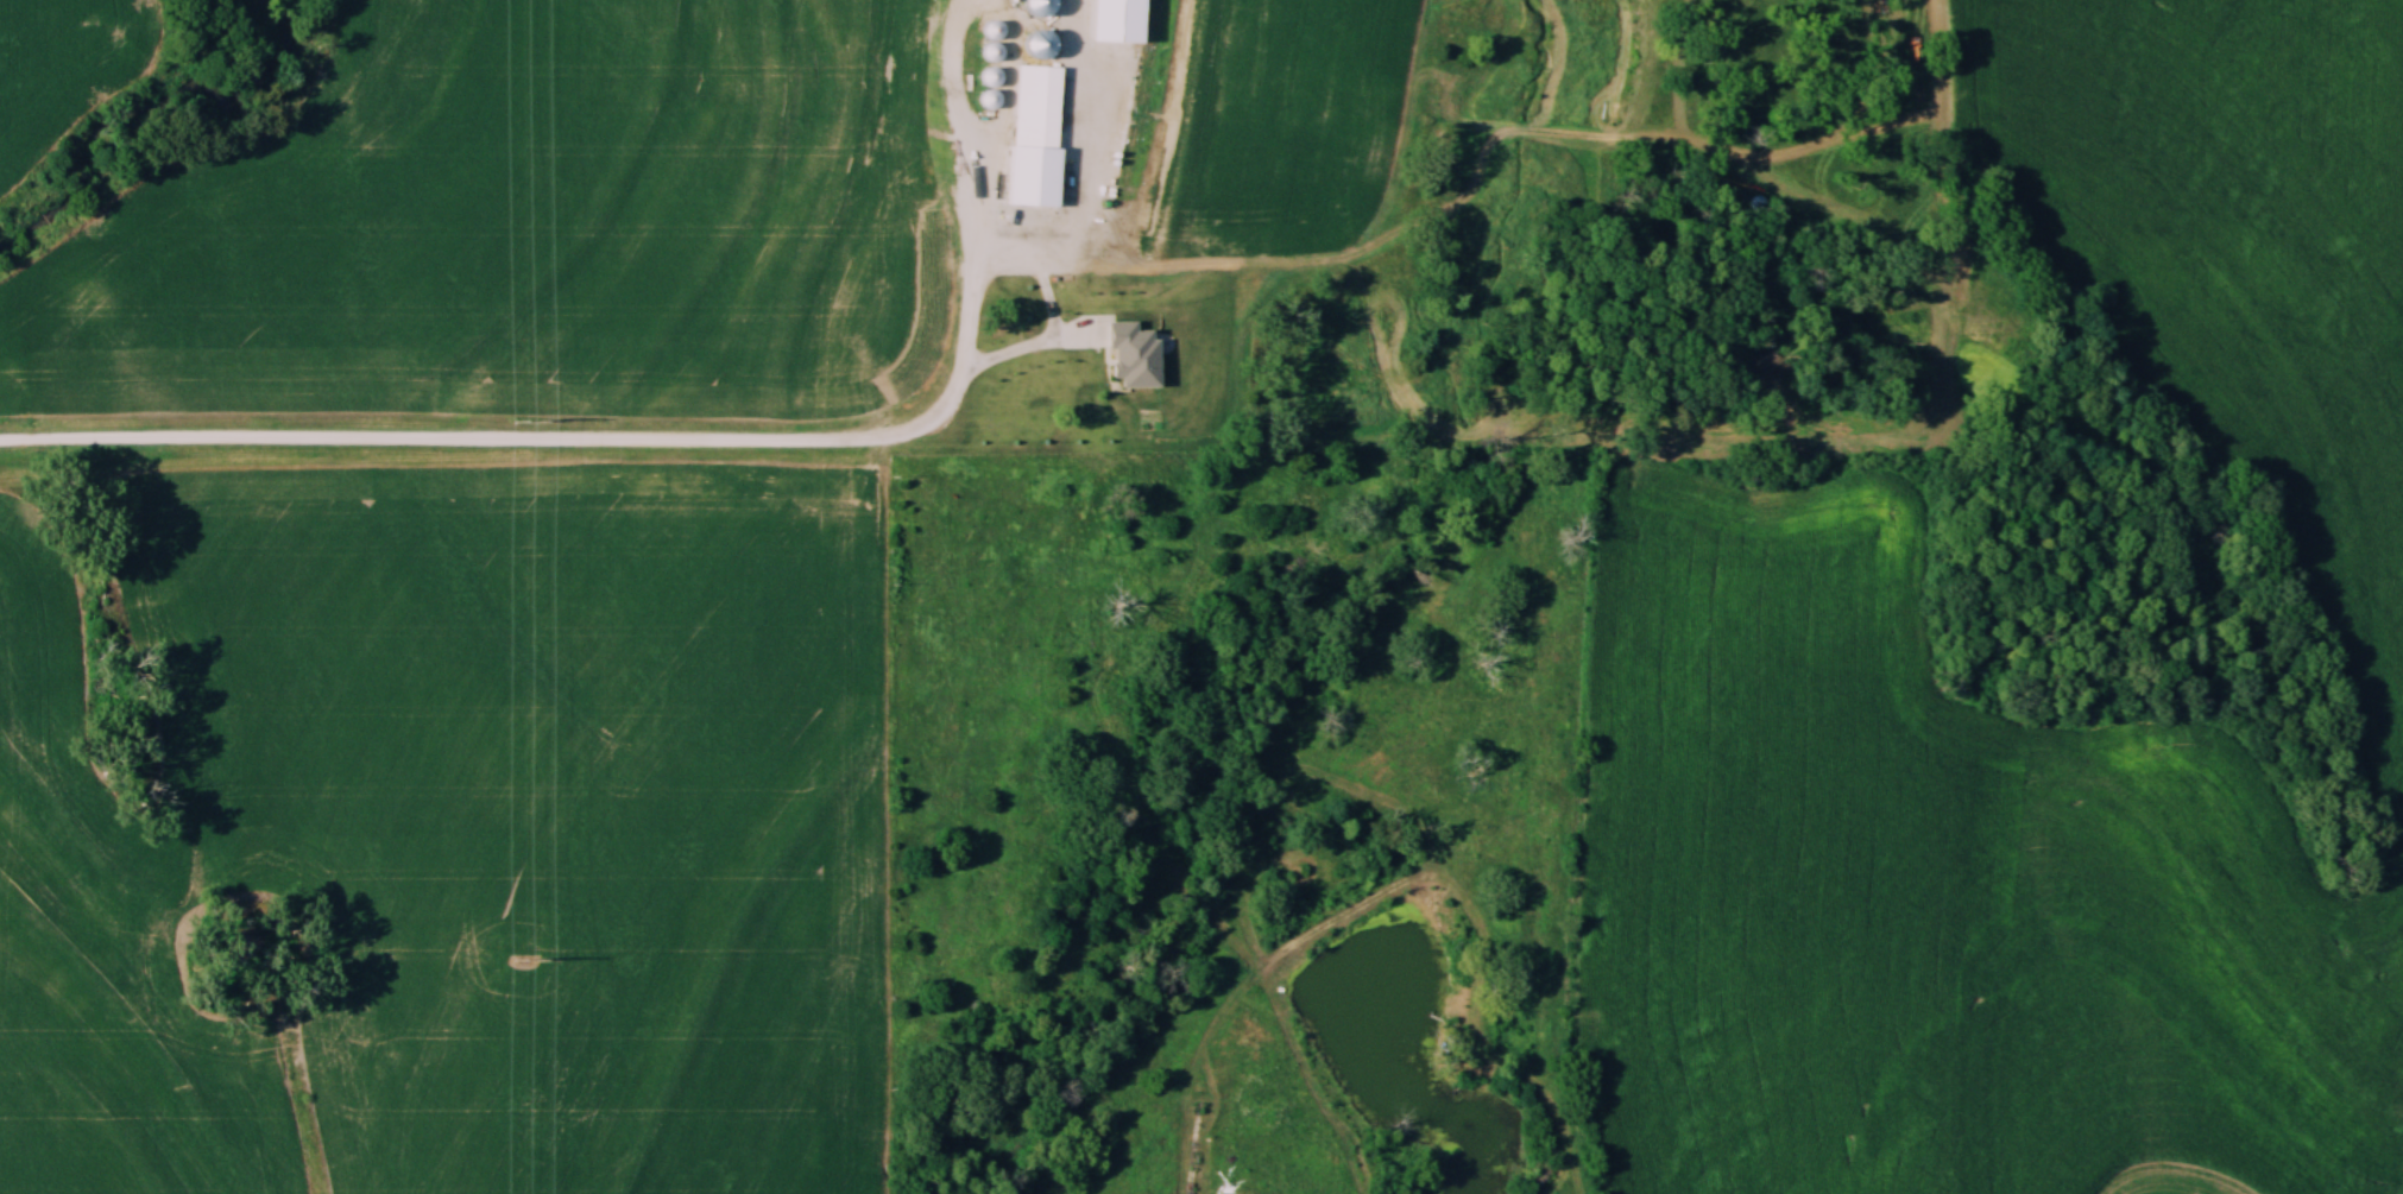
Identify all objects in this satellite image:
building: (1041, 8)
building: (996, 32)
building: (1041, 46)
building: (992, 78)
road: (959, 132)
road: (1081, 168)
building: (1036, 178)
building: (1093, 245)
building: (960, 322)
road: (1046, 341)
building: (1027, 347)
power tower: (524, 422)
road: (548, 440)
power tower: (528, 956)

